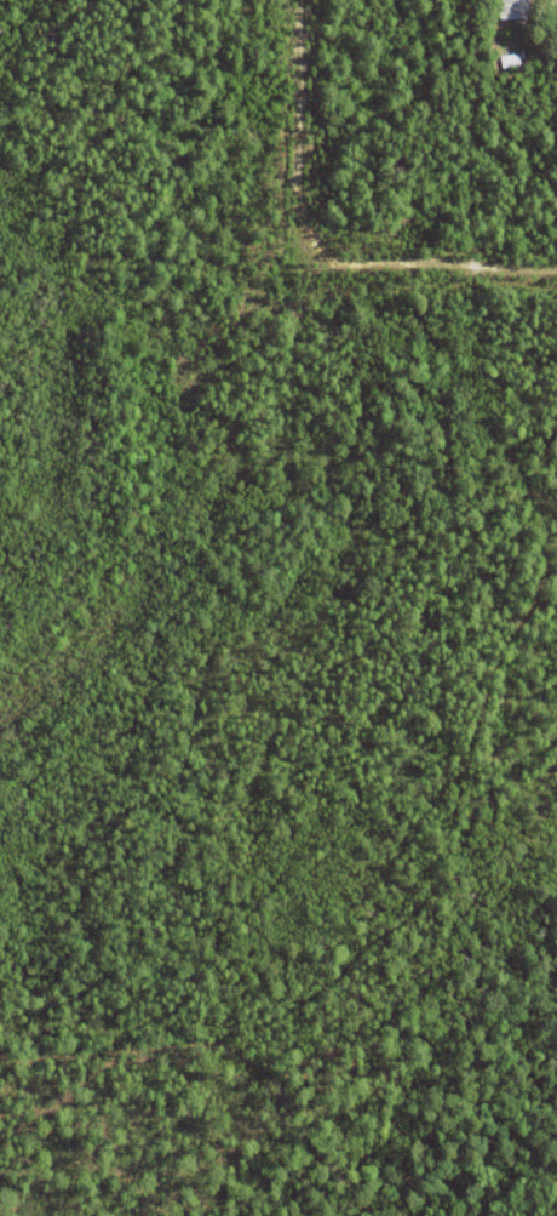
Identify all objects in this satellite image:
building: (515, 10)
building: (510, 62)

